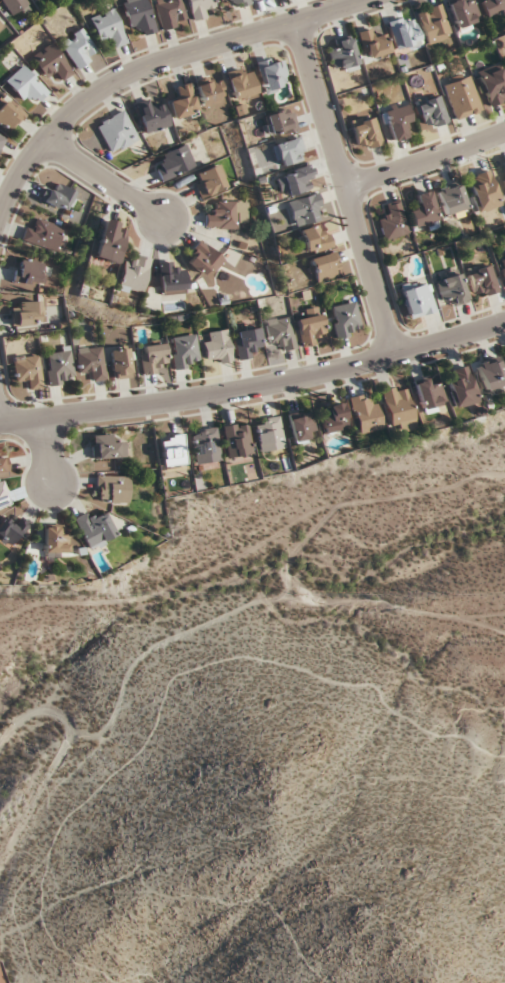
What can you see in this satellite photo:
building: (224, 0)
building: (241, 2)
building: (14, 5)
building: (493, 7)
building: (199, 8)
building: (463, 12)
building: (170, 13)
building: (139, 15)
building: (1, 21)
building: (433, 23)
building: (108, 27)
building: (404, 33)
building: (372, 43)
building: (79, 47)
building: (344, 54)
building: (51, 61)
road: (145, 68)
building: (273, 73)
building: (25, 83)
building: (241, 83)
building: (492, 84)
building: (210, 91)
building: (462, 96)
building: (183, 101)
building: (432, 111)
building: (9, 113)
building: (152, 115)
building: (397, 120)
building: (280, 121)
building: (116, 131)
building: (366, 132)
building: (2, 139)
building: (288, 150)
road: (425, 159)
building: (176, 161)
building: (504, 161)
road: (107, 178)
building: (209, 179)
building: (295, 179)
building: (503, 180)
road: (345, 187)
building: (485, 190)
building: (58, 197)
building: (452, 199)
building: (304, 209)
building: (424, 209)
building: (223, 215)
building: (392, 221)
building: (43, 234)
building: (314, 238)
building: (109, 241)
building: (211, 259)
building: (323, 266)
building: (502, 267)
building: (30, 271)
building: (132, 274)
building: (170, 277)
building: (482, 281)
building: (451, 288)
building: (418, 300)
building: (25, 312)
building: (345, 319)
building: (310, 328)
building: (280, 332)
building: (246, 341)
building: (218, 347)
building: (184, 351)
building: (503, 356)
building: (152, 357)
building: (91, 362)
building: (121, 362)
building: (59, 366)
building: (28, 370)
building: (489, 375)
road: (255, 386)
building: (458, 386)
building: (427, 394)
building: (397, 407)
building: (364, 413)
building: (332, 418)
building: (301, 426)
building: (269, 433)
building: (237, 439)
building: (205, 445)
building: (106, 447)
building: (173, 449)
road: (48, 453)
building: (3, 464)
building: (112, 489)
building: (3, 497)
building: (94, 528)
building: (55, 539)
park: (270, 734)

